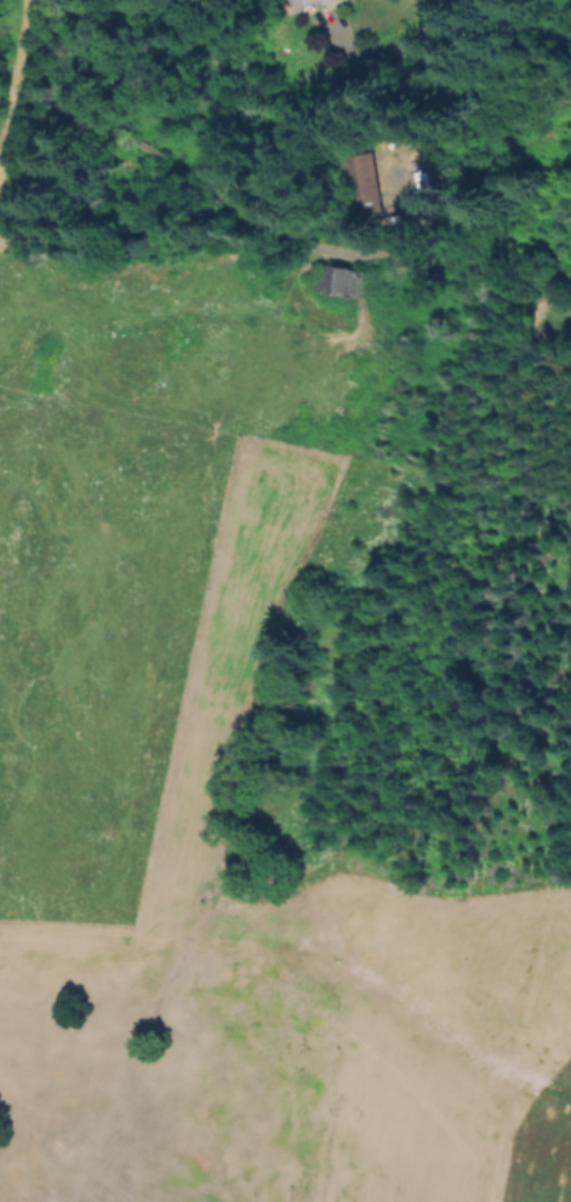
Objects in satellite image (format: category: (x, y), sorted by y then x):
building: (324, 2)
building: (301, 4)
road: (338, 97)
building: (358, 187)
road: (296, 239)
building: (337, 284)

